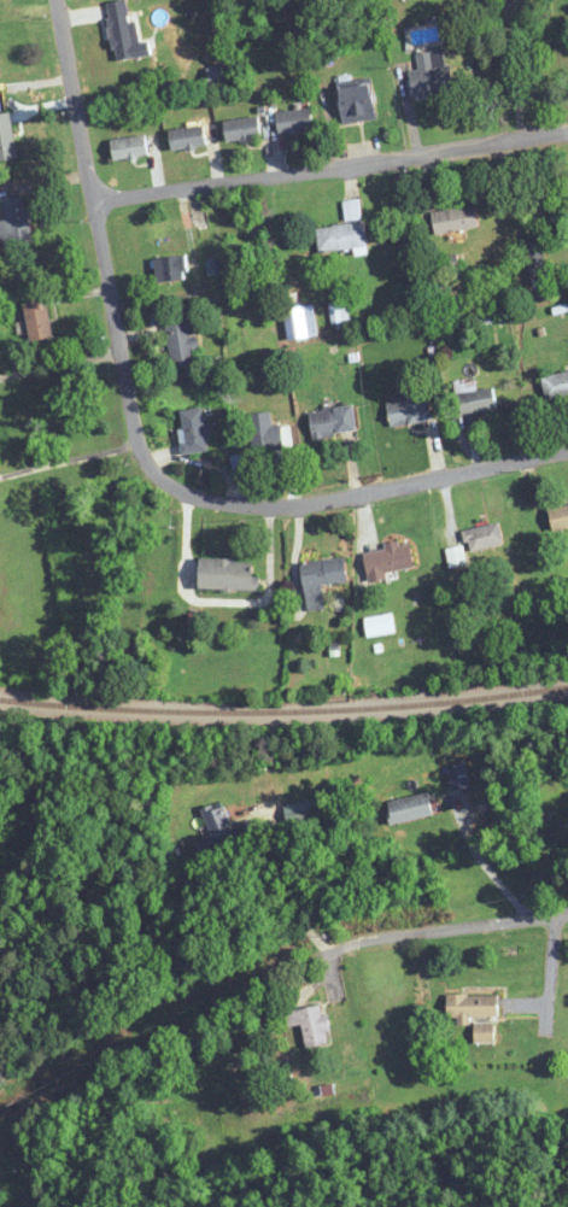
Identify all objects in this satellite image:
building: (5, 4)
building: (127, 39)
building: (432, 74)
building: (357, 102)
building: (294, 121)
building: (242, 129)
building: (187, 137)
building: (7, 139)
building: (129, 147)
road: (332, 166)
building: (455, 219)
building: (16, 223)
building: (344, 232)
building: (537, 263)
building: (171, 269)
building: (339, 312)
building: (37, 320)
building: (300, 321)
building: (181, 342)
road: (60, 364)
building: (556, 385)
building: (474, 398)
building: (409, 410)
building: (333, 421)
building: (194, 432)
road: (139, 449)
road: (69, 461)
building: (558, 517)
building: (484, 538)
building: (456, 557)
building: (388, 561)
building: (228, 575)
building: (321, 580)
building: (379, 626)
railway: (283, 710)
building: (410, 808)
building: (217, 837)
road: (485, 863)
road: (294, 884)
road: (254, 1006)
building: (473, 1006)
building: (310, 1025)

